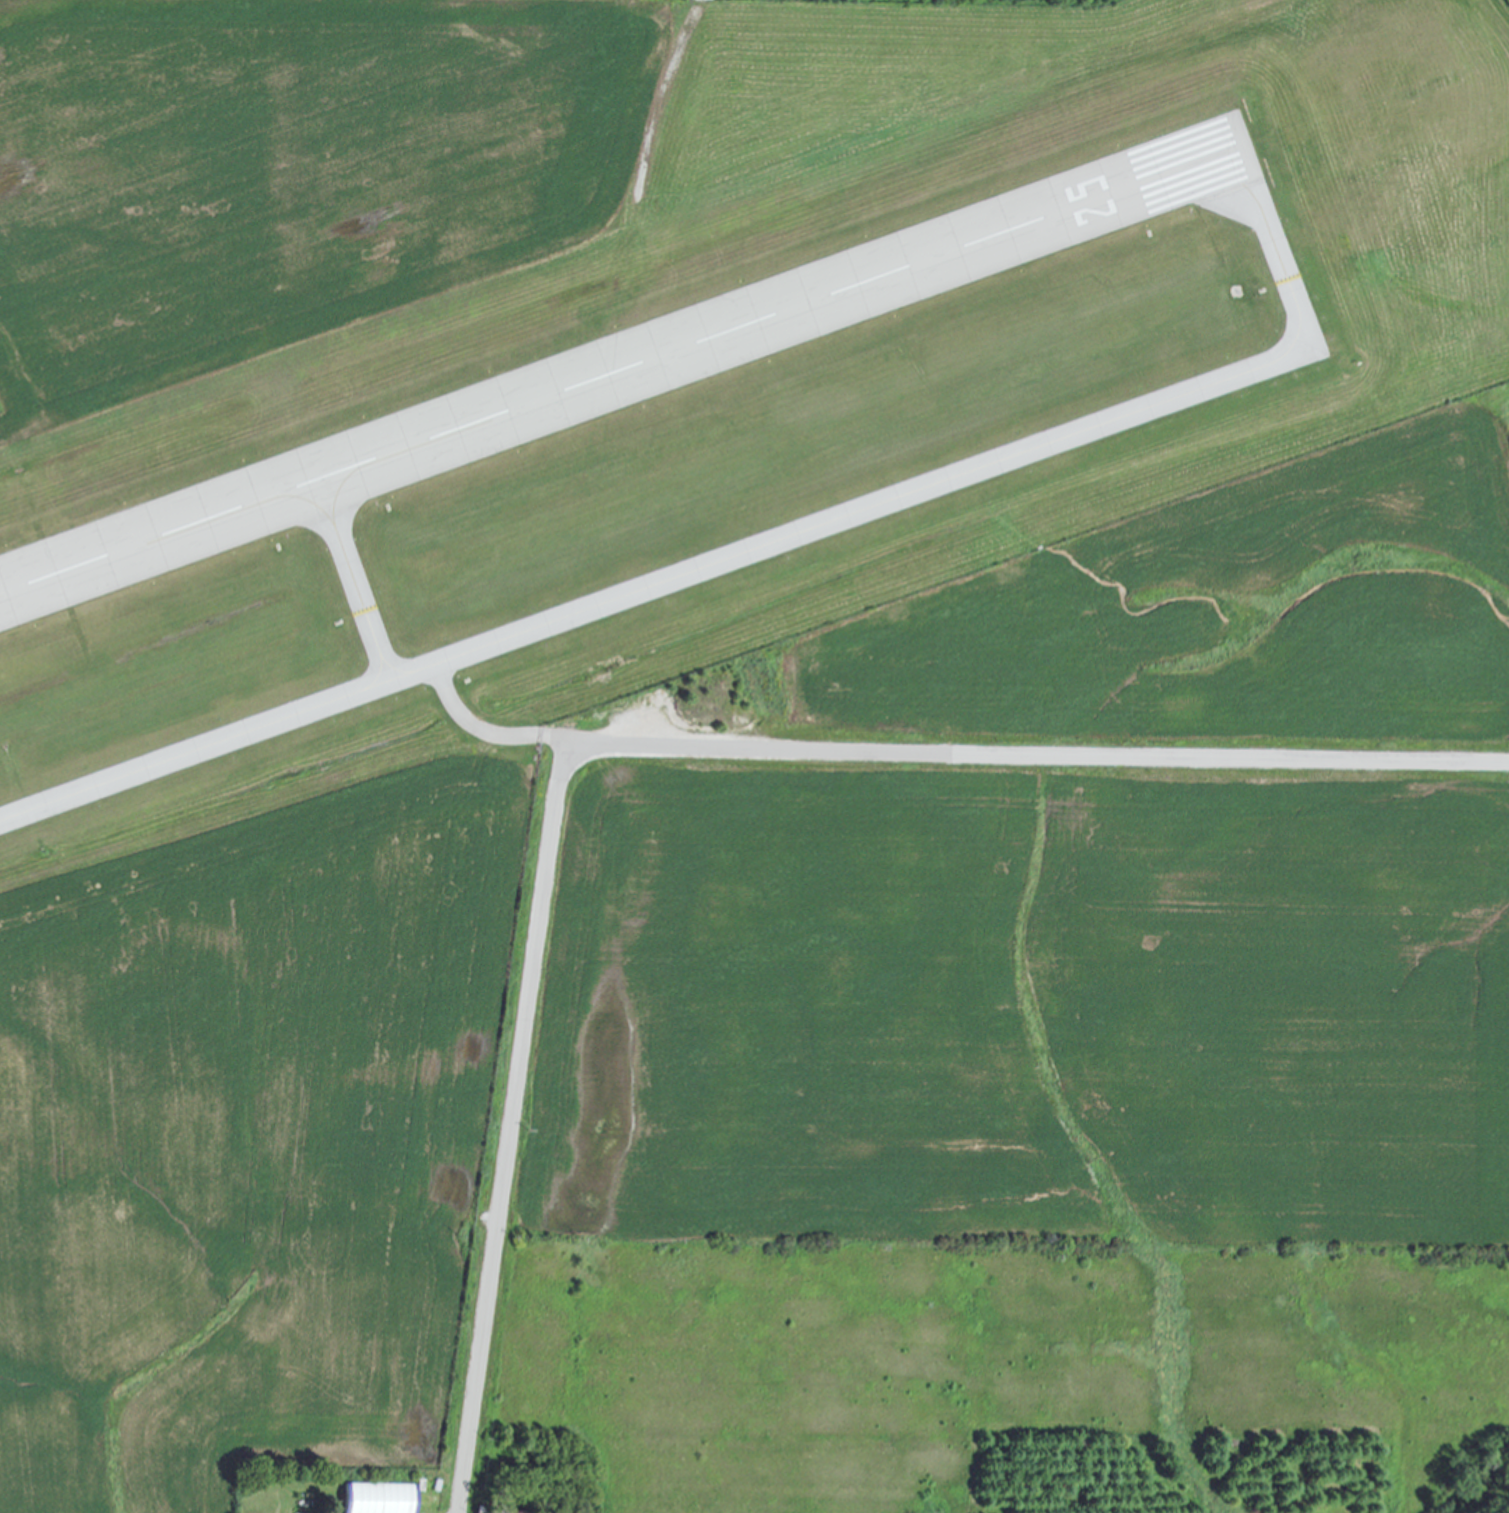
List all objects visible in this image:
airport runway: (625, 366)
airport taxiway: (756, 548)
airport: (631, 561)
airport taxiway: (355, 578)
road: (492, 733)
road: (654, 746)
building: (375, 1498)

